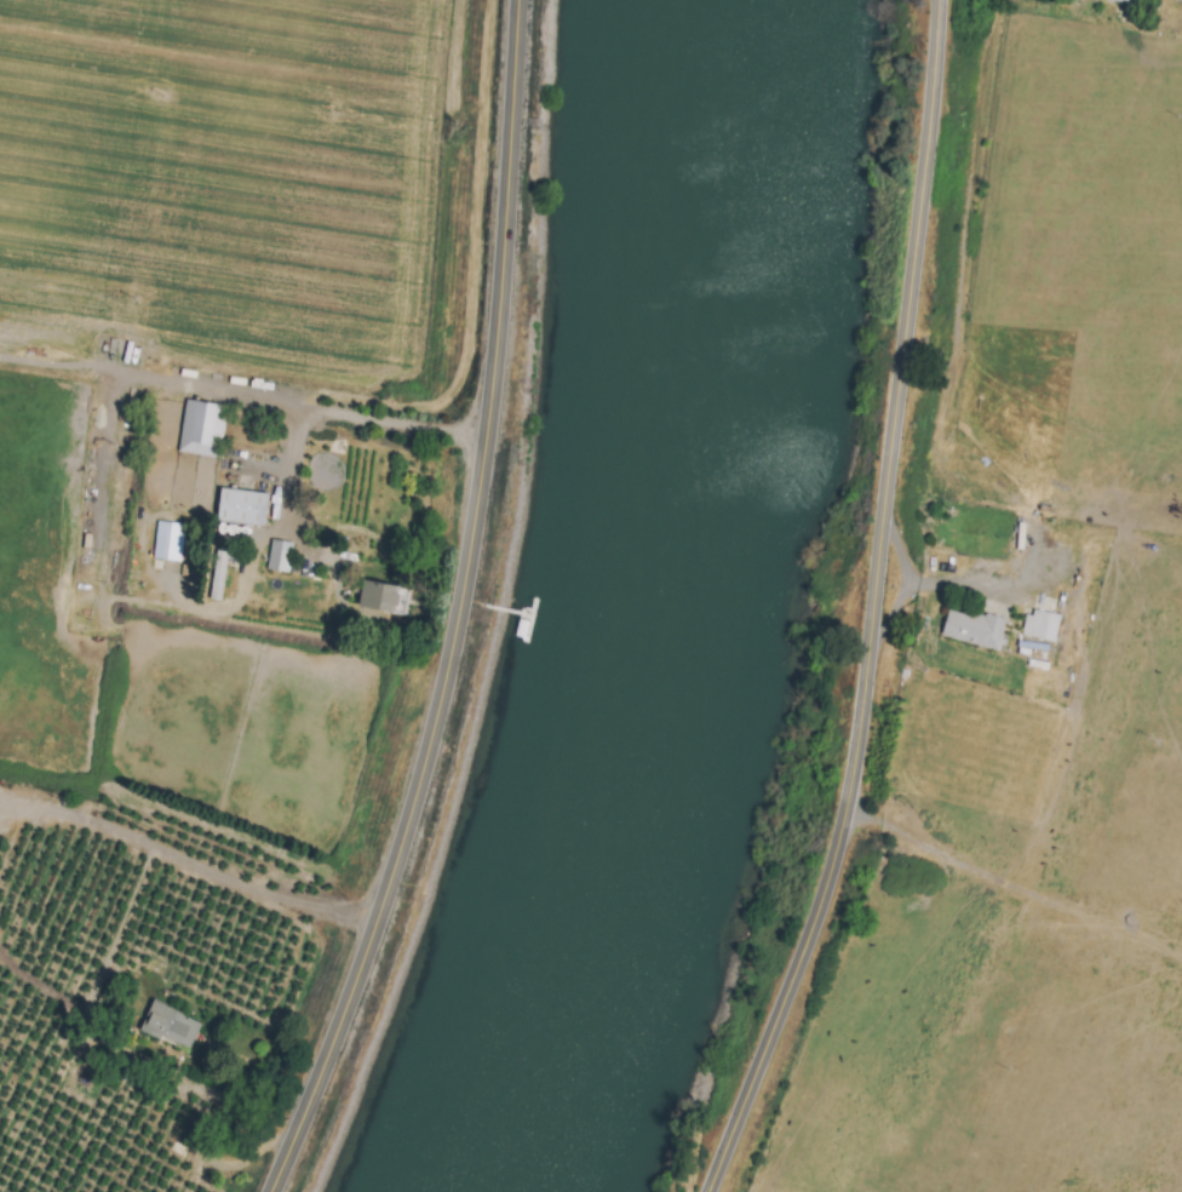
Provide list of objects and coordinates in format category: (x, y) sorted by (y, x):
building: (1136, 0)
road: (214, 389)
road: (390, 417)
building: (200, 428)
road: (283, 476)
building: (241, 506)
building: (167, 540)
crop: (231, 543)
building: (279, 555)
building: (217, 572)
road: (935, 585)
building: (381, 597)
river: (676, 607)
road: (877, 607)
road: (893, 608)
road: (459, 609)
building: (1039, 625)
building: (972, 629)
crop: (1006, 674)
road: (187, 863)
road: (102, 965)
building: (170, 1025)
road: (213, 1133)

